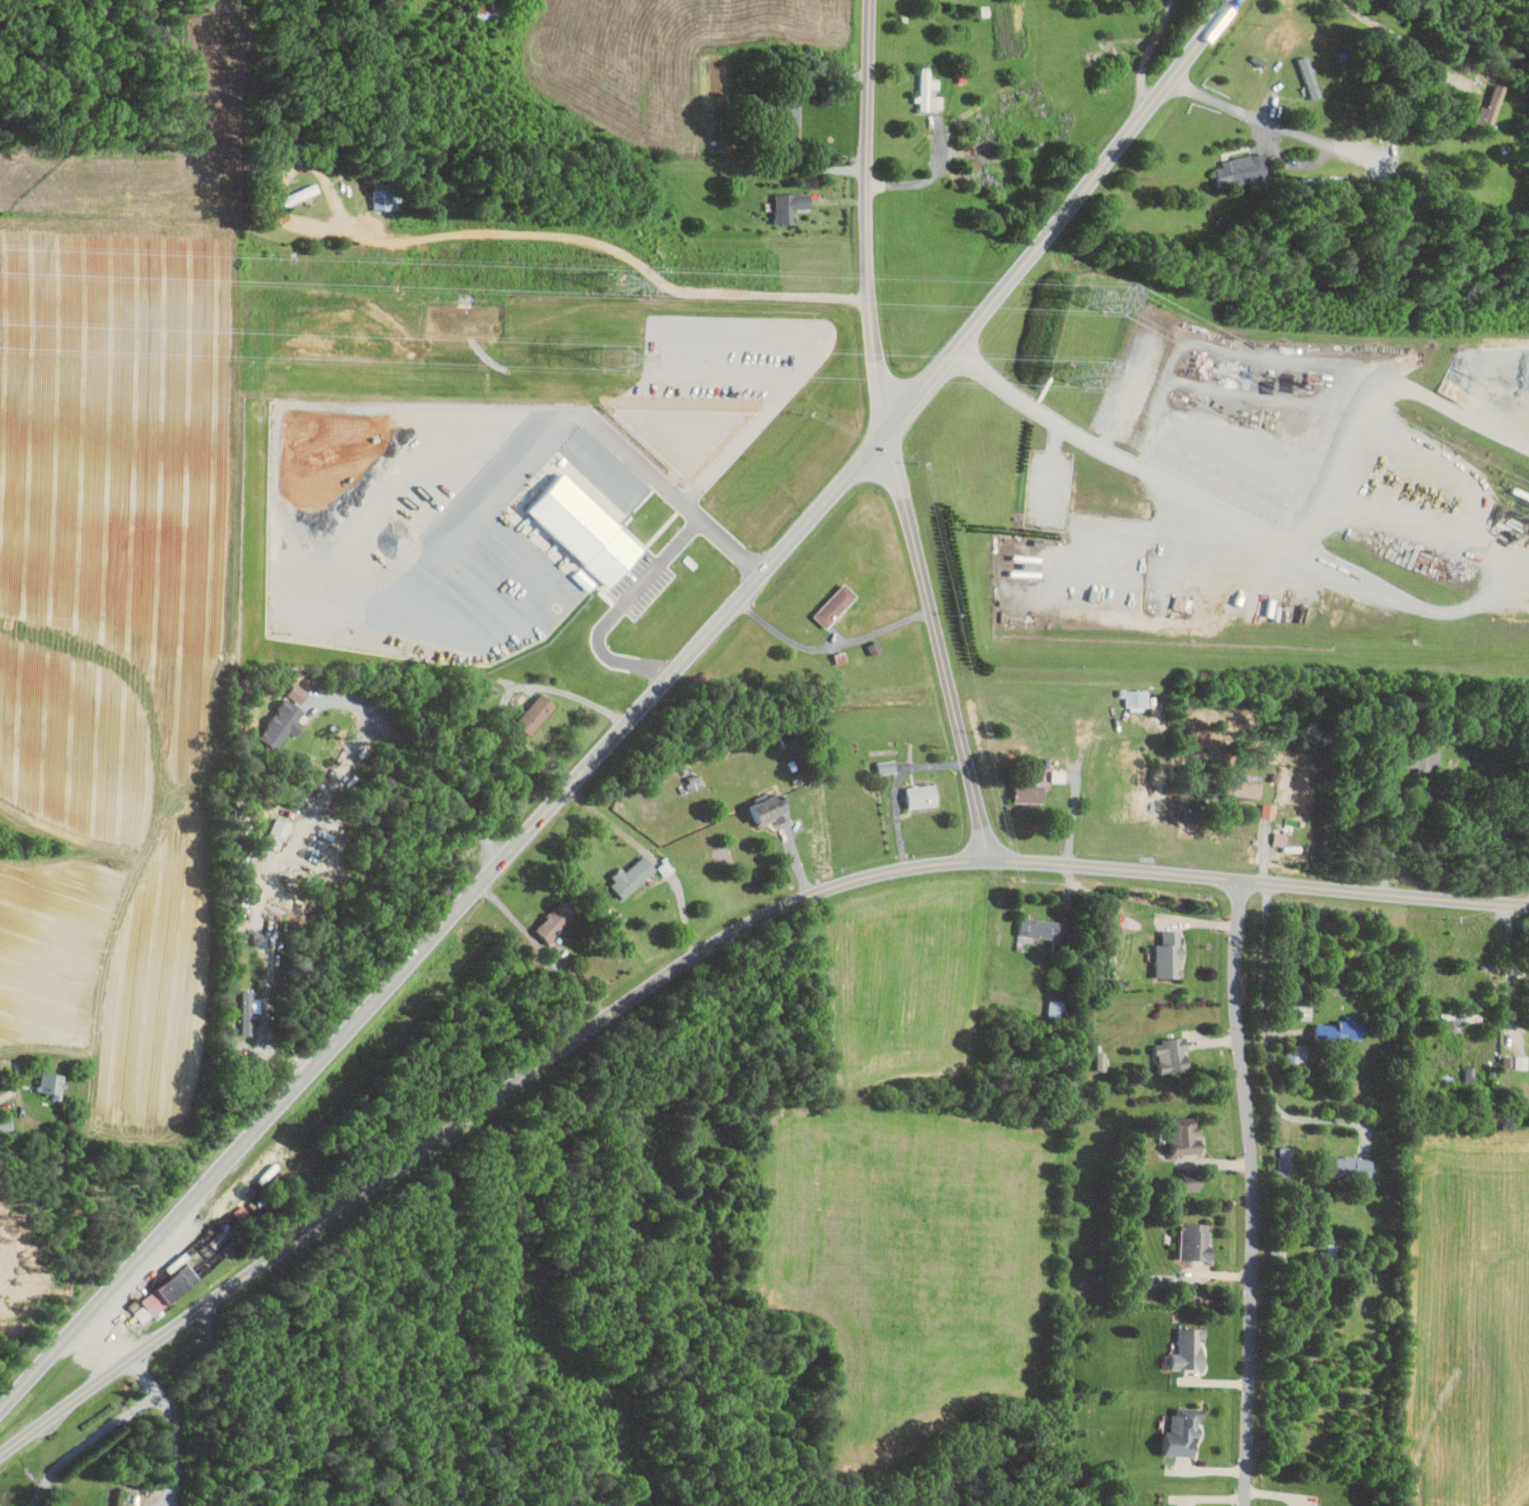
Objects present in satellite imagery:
building: (489, 5)
building: (487, 17)
road: (1403, 37)
road: (1148, 52)
building: (930, 91)
building: (1495, 101)
building: (795, 112)
road: (1277, 123)
road: (664, 146)
building: (1240, 172)
road: (928, 177)
building: (302, 195)
building: (388, 196)
building: (791, 207)
road: (613, 247)
power tower: (622, 283)
power tower: (1103, 299)
power tower: (623, 362)
power tower: (1086, 374)
road: (1005, 387)
road: (891, 434)
road: (1053, 468)
building: (1021, 491)
road: (1314, 501)
road: (641, 582)
building: (1184, 603)
building: (836, 604)
road: (830, 647)
building: (299, 692)
road: (576, 696)
building: (1137, 697)
building: (537, 713)
road: (630, 717)
building: (286, 720)
road: (426, 766)
building: (888, 766)
road: (1077, 773)
building: (1060, 775)
road: (896, 785)
building: (1246, 788)
building: (1031, 792)
building: (922, 795)
building: (1270, 809)
building: (771, 810)
building: (281, 832)
road: (1397, 836)
building: (1281, 838)
building: (633, 876)
road: (258, 879)
building: (556, 920)
building: (1040, 927)
road: (103, 930)
building: (1170, 954)
road: (695, 956)
road: (1510, 962)
road: (1495, 969)
building: (1303, 1009)
building: (248, 1012)
building: (1454, 1021)
building: (1342, 1030)
road: (1266, 1052)
building: (1175, 1055)
building: (1297, 1055)
building: (1103, 1060)
building: (1522, 1061)
building: (1470, 1073)
building: (53, 1084)
road: (9, 1092)
building: (1186, 1138)
building: (1353, 1166)
building: (1191, 1182)
road: (93, 1189)
road: (1254, 1192)
building: (240, 1216)
building: (1196, 1241)
building: (223, 1242)
building: (168, 1293)
road: (110, 1335)
building: (1190, 1349)
road: (174, 1425)
building: (1185, 1432)
road: (89, 1441)

